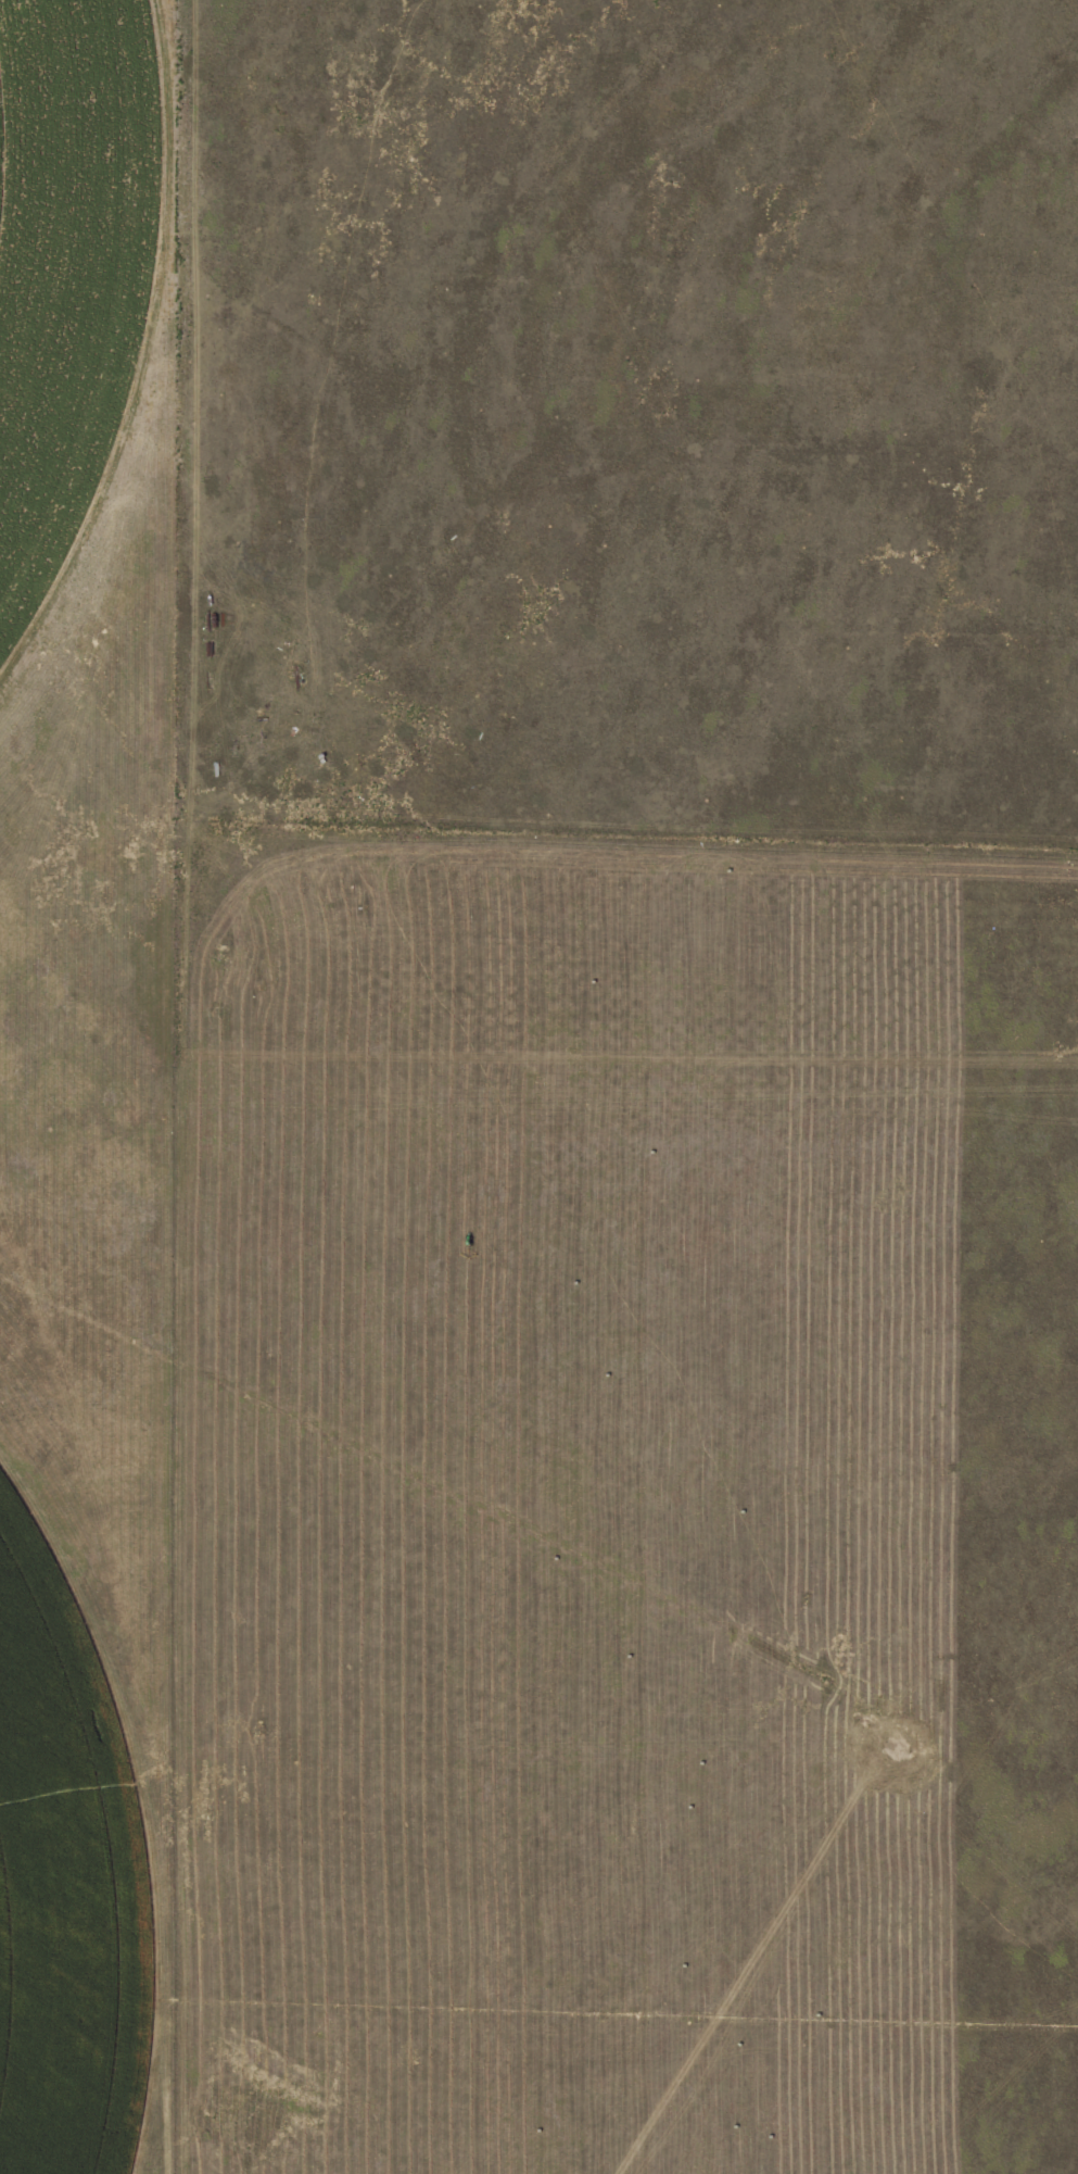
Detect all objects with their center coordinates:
road: (186, 1624)

